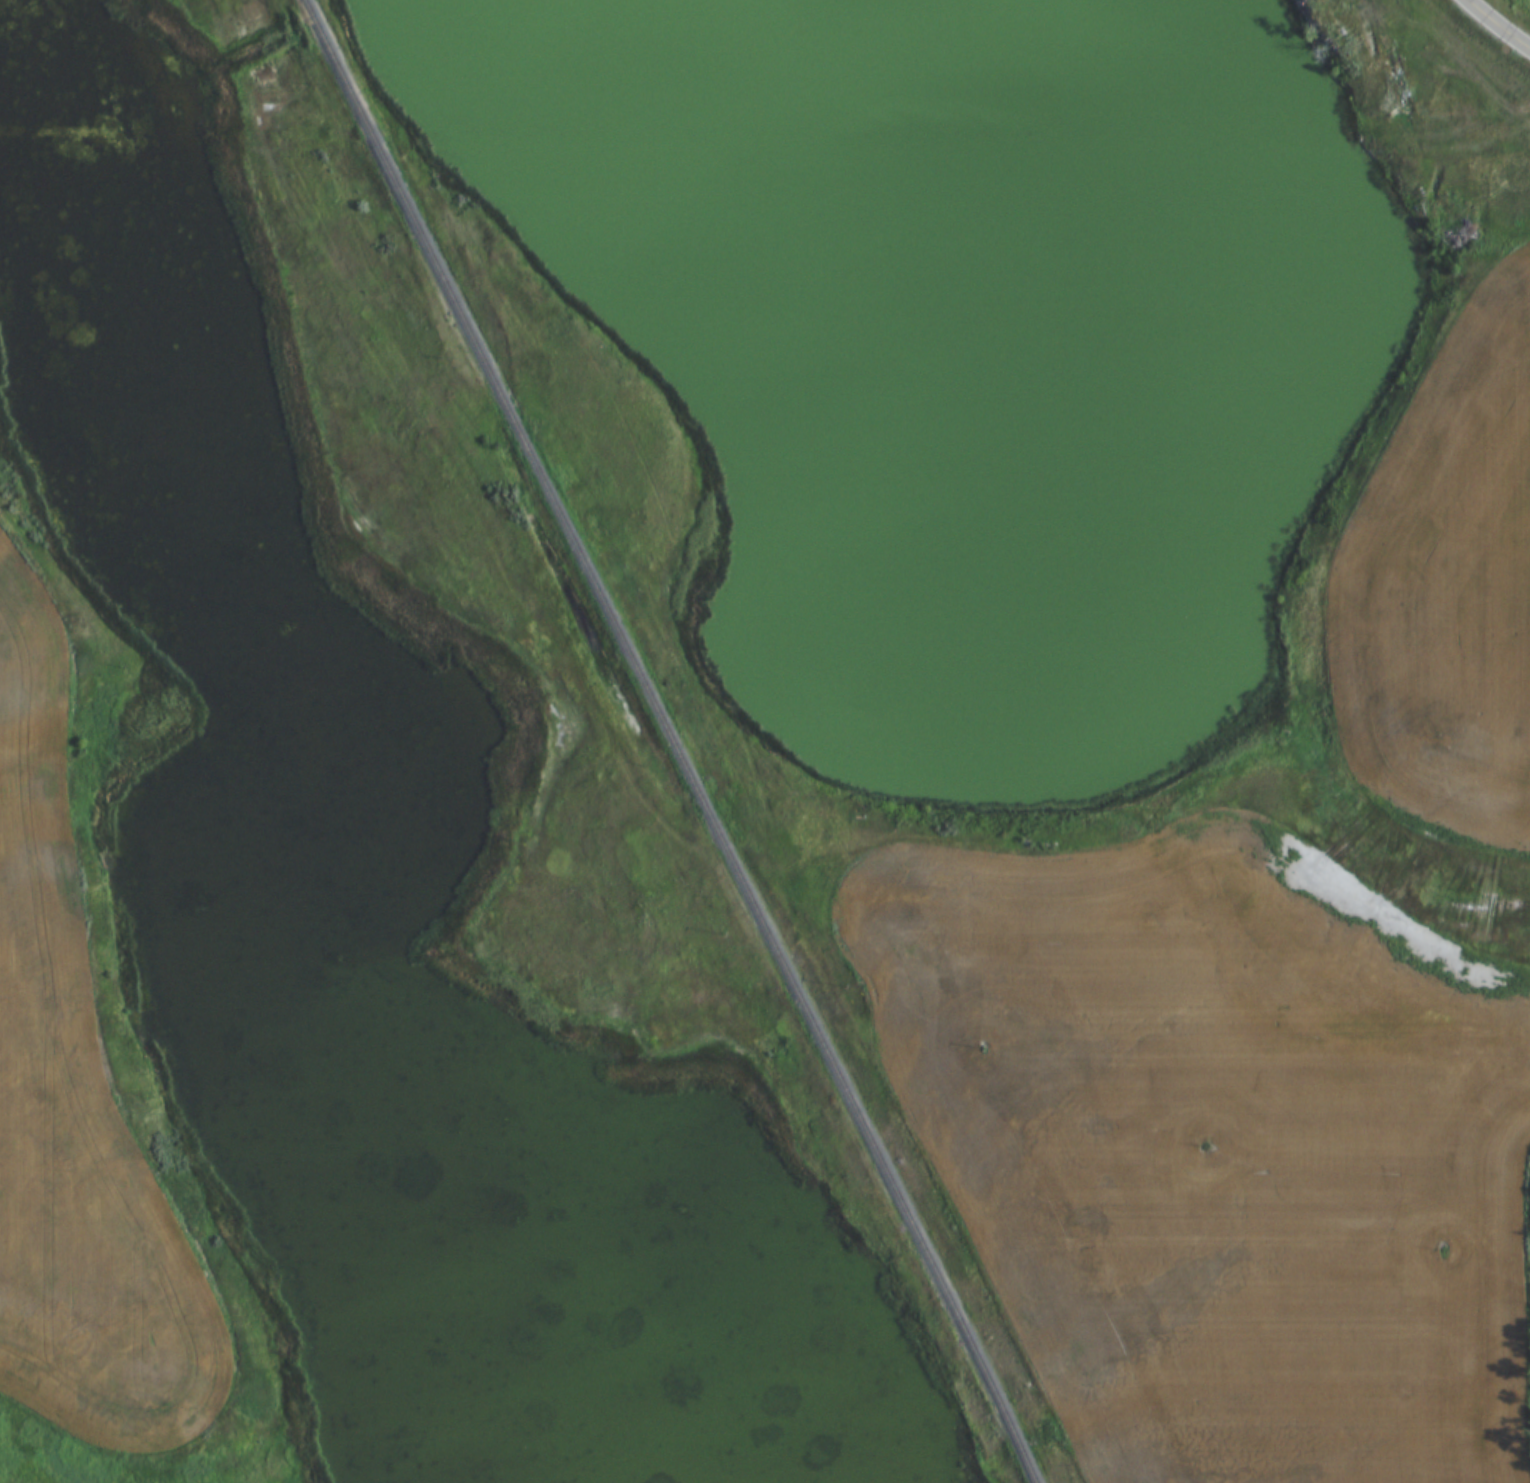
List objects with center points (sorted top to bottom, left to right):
road: (1501, 24)
railway: (672, 741)

